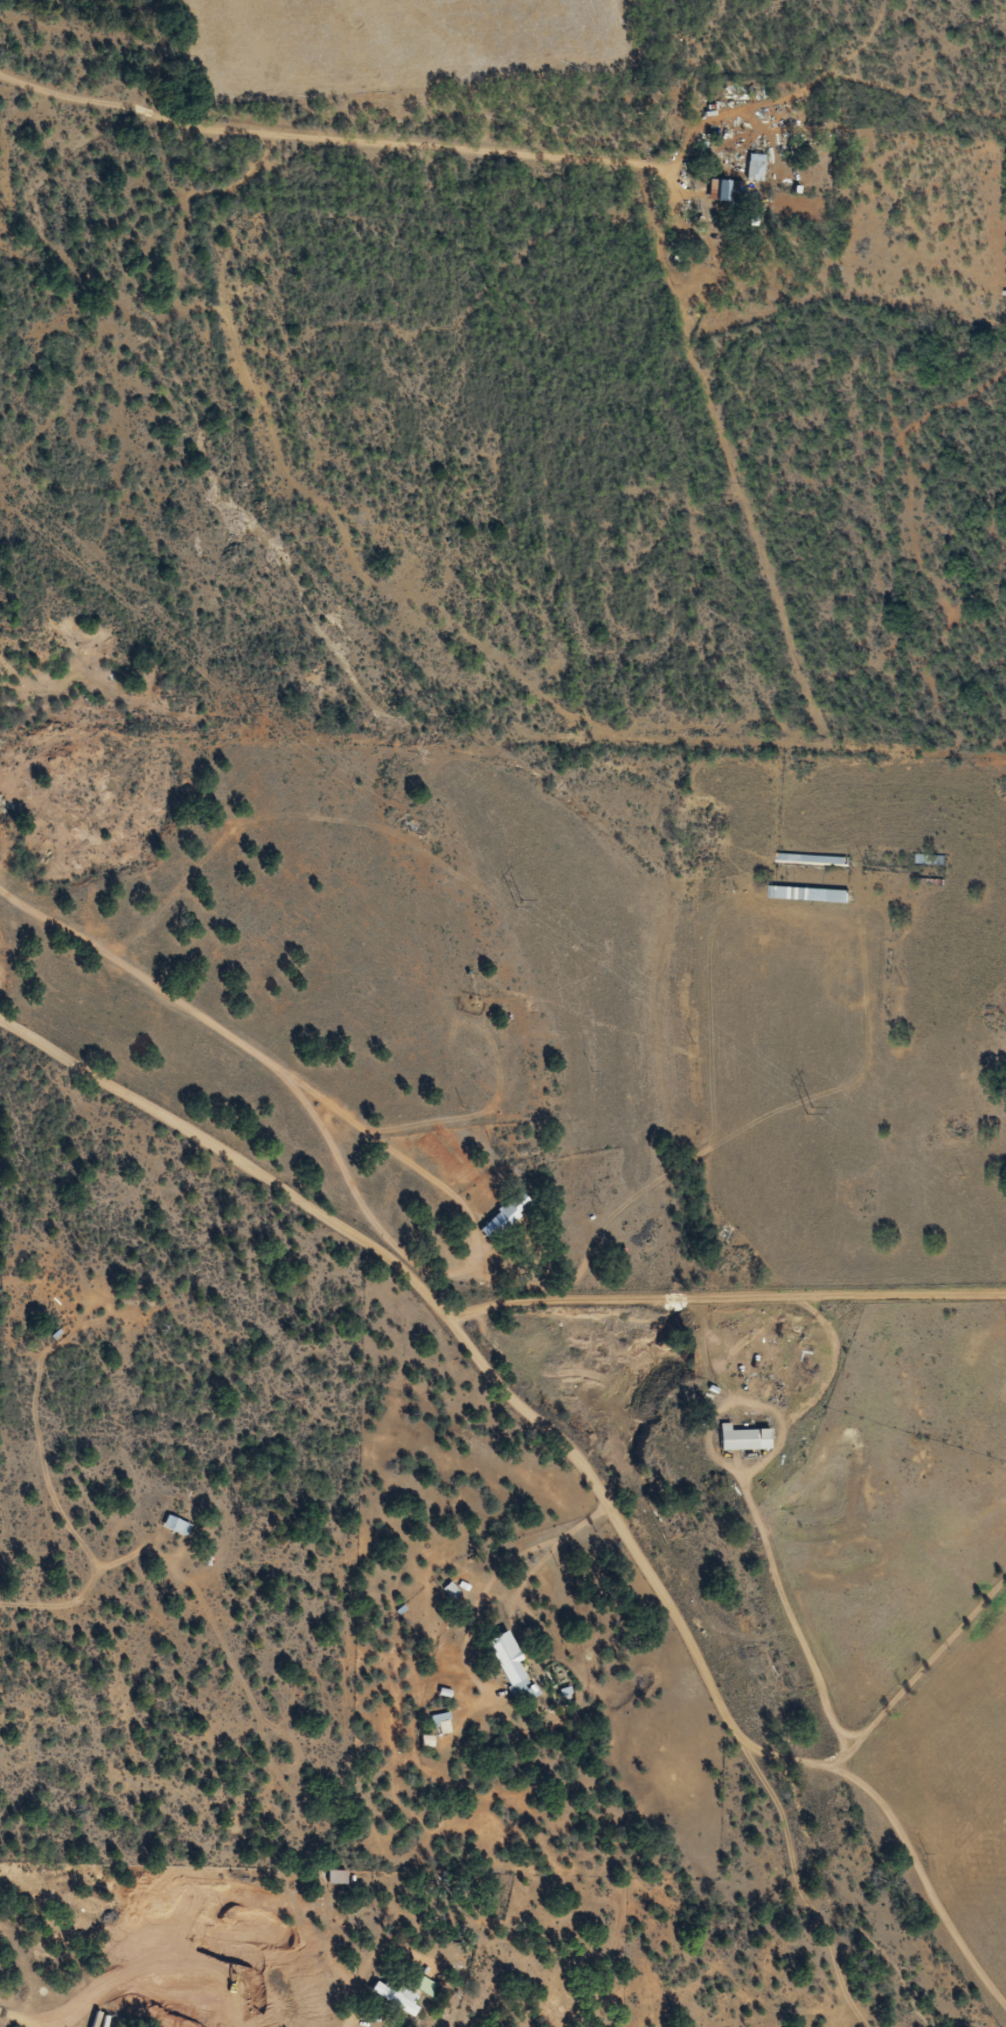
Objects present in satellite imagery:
road: (509, 153)
building: (754, 168)
building: (717, 191)
power tower: (248, 715)
building: (930, 859)
building: (808, 894)
power tower: (511, 908)
power tower: (802, 1108)
building: (503, 1216)
road: (509, 1394)
building: (743, 1439)
building: (175, 1526)
building: (507, 1663)
building: (443, 1723)
building: (336, 1878)
building: (425, 1987)

